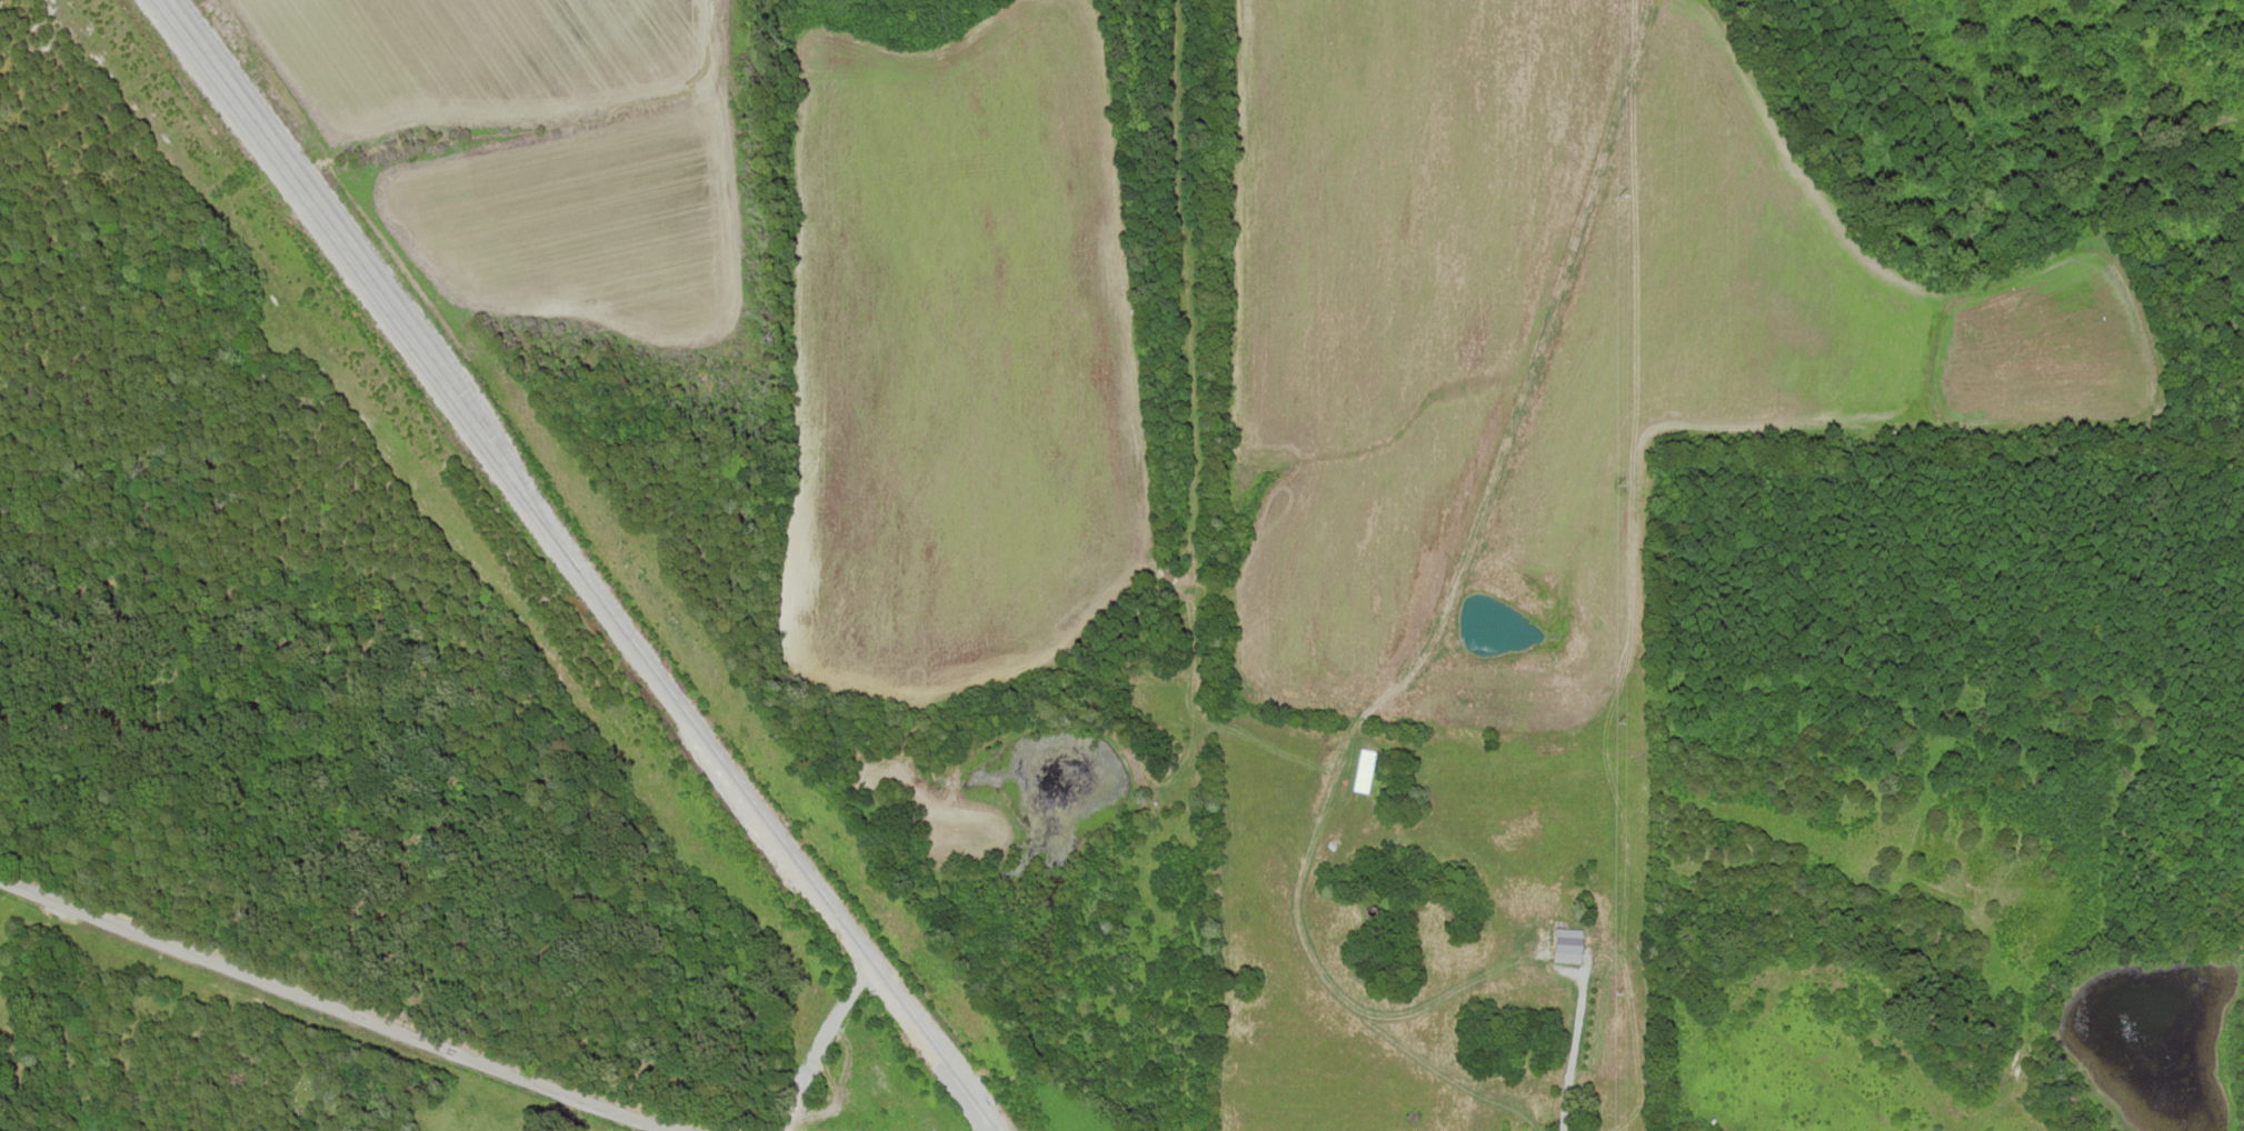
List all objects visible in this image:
railway: (574, 565)
building: (1569, 940)
road: (339, 999)

